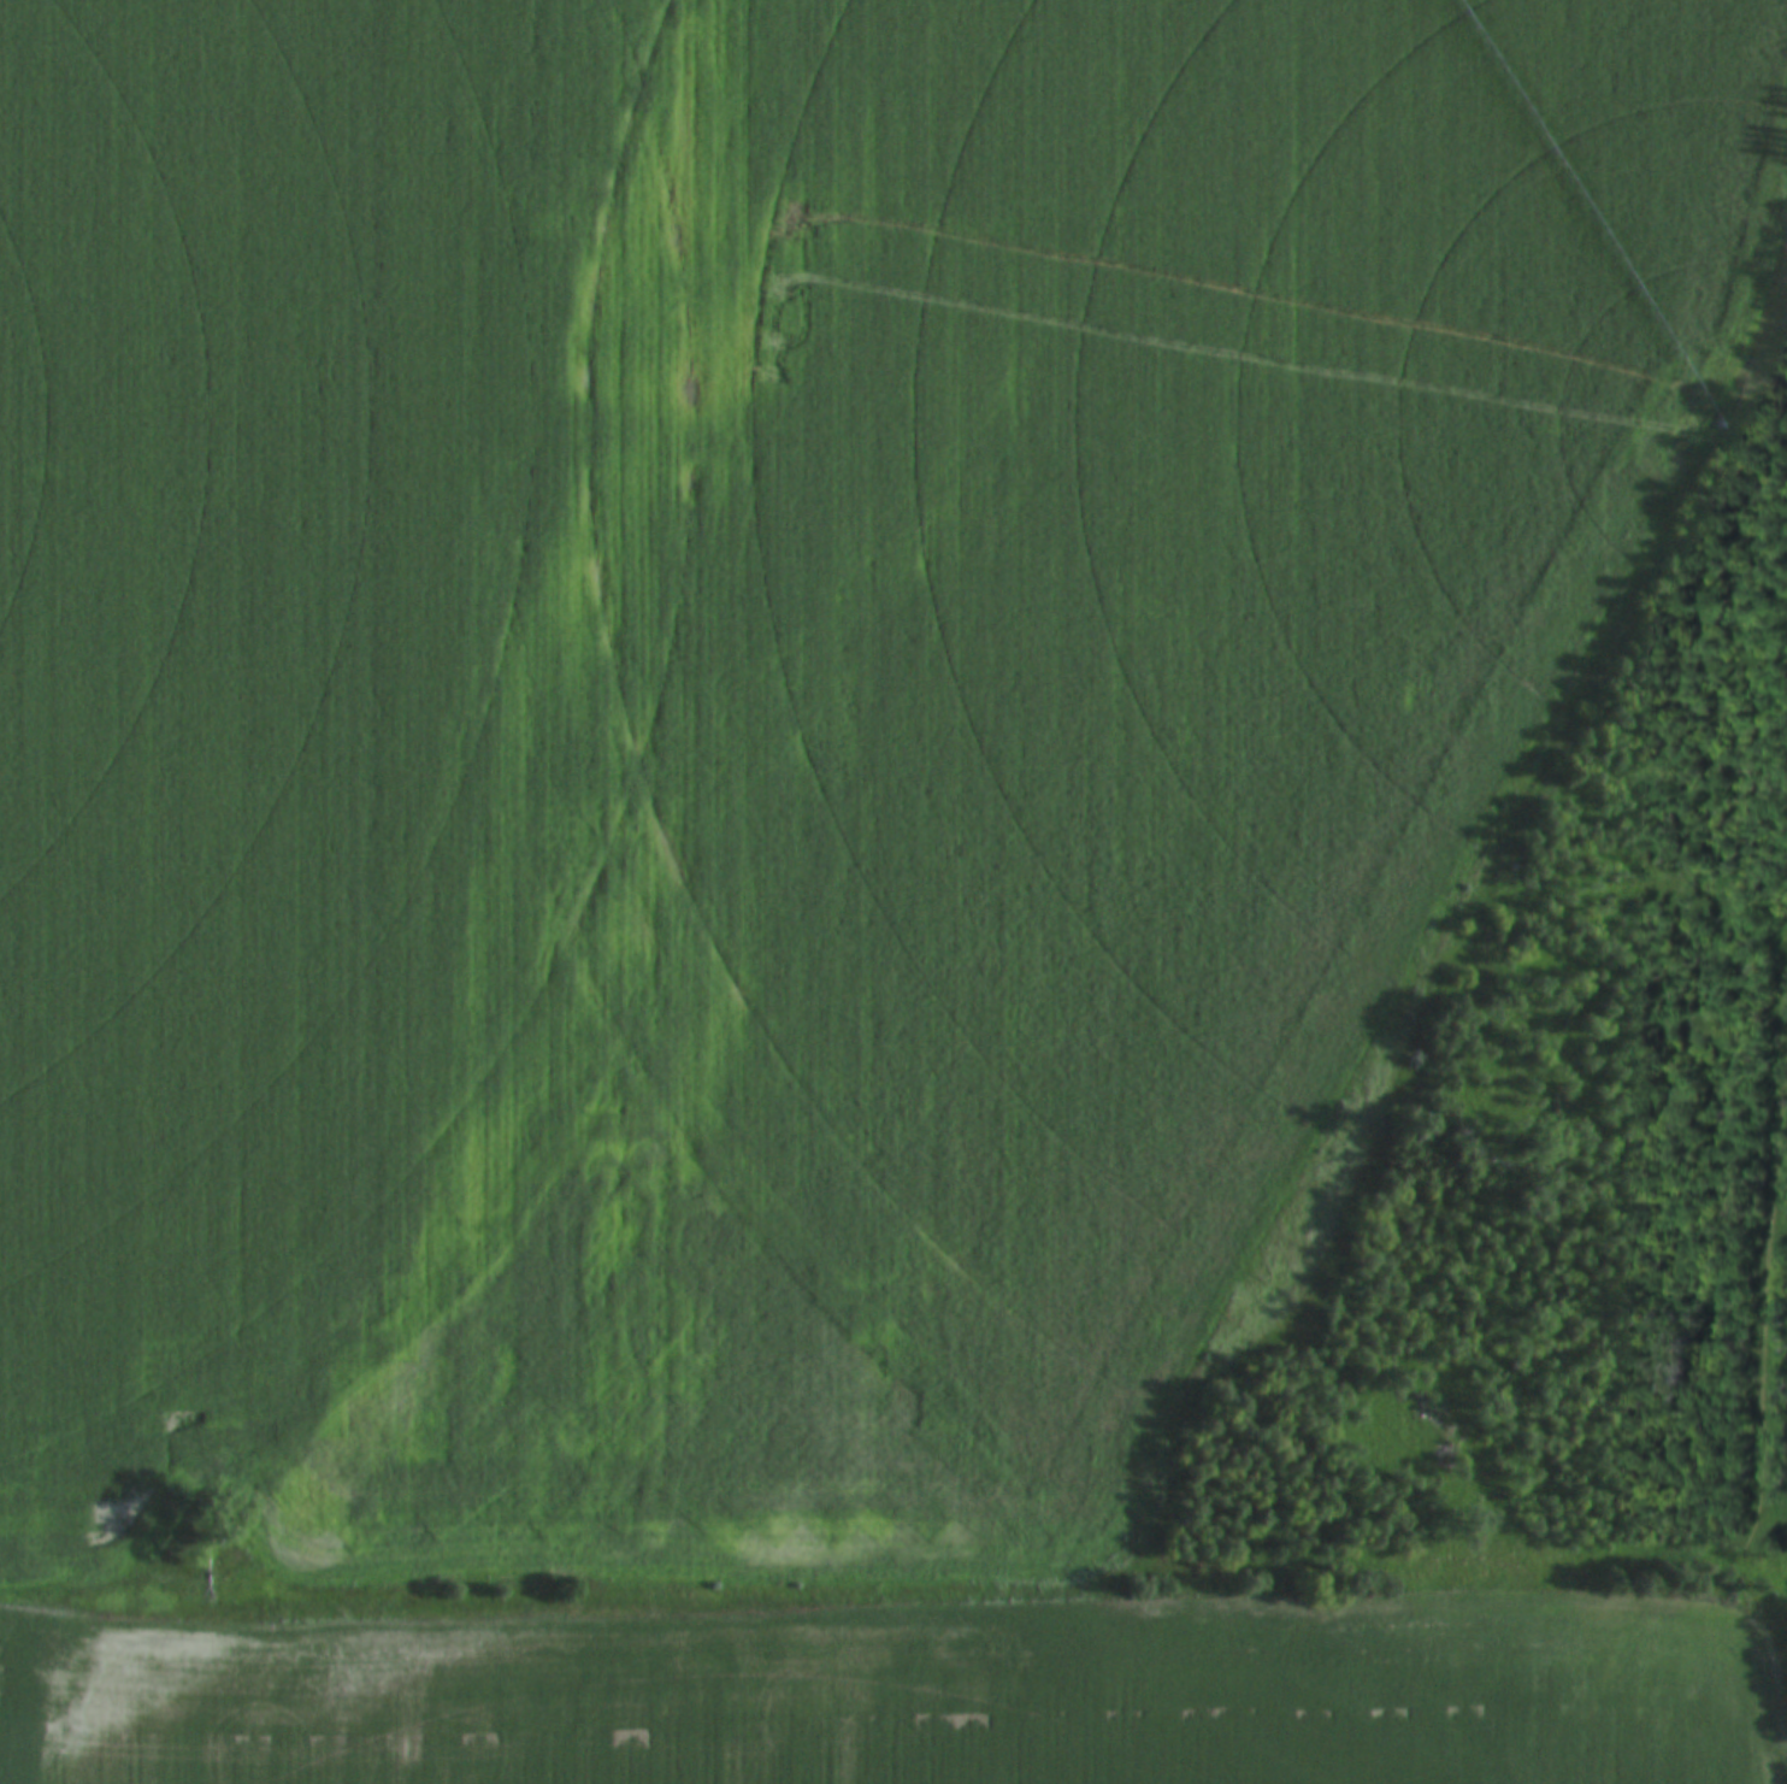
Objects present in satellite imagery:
road: (1783, 302)

